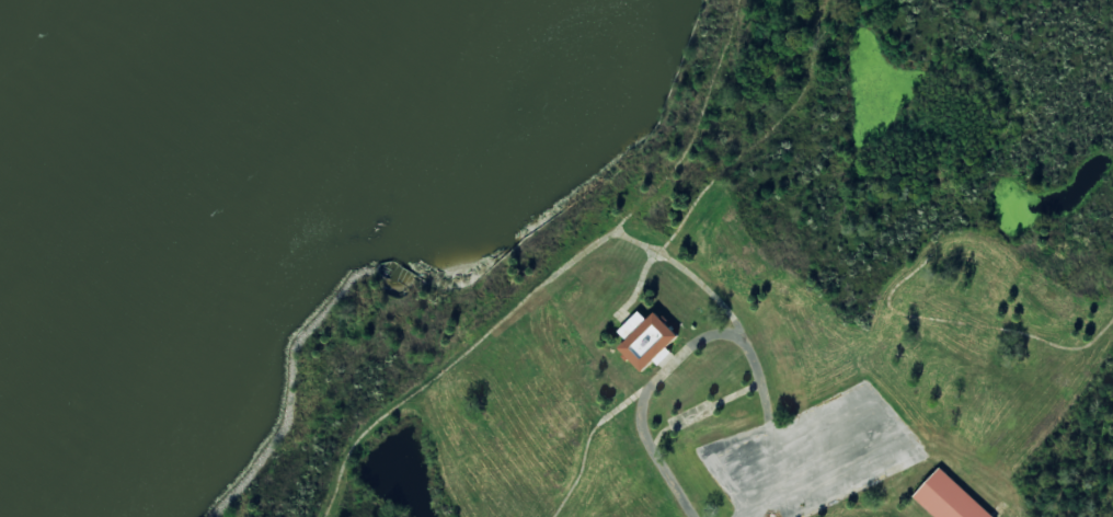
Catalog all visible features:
building: (646, 338)
building: (948, 497)

